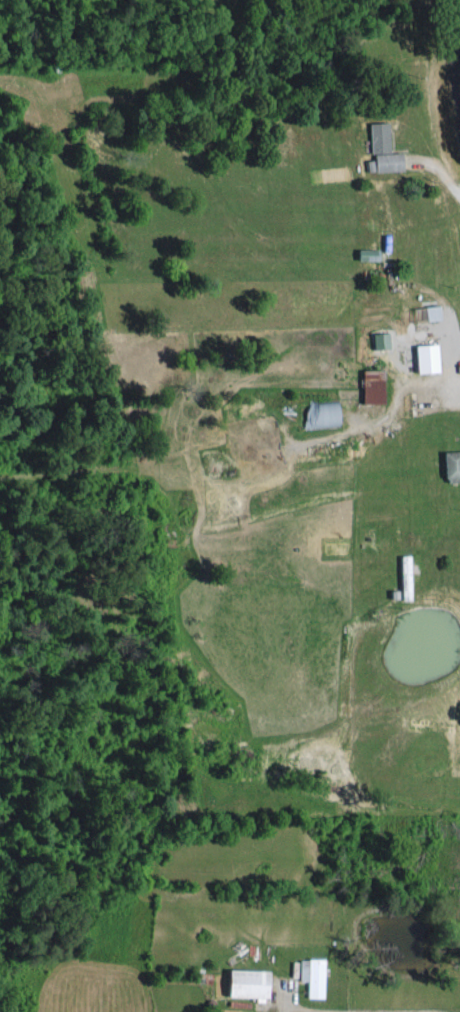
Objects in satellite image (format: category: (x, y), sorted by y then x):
road: (453, 49)
building: (380, 148)
building: (365, 252)
building: (421, 310)
building: (377, 338)
building: (422, 356)
building: (369, 384)
building: (319, 412)
building: (450, 464)
building: (309, 974)
building: (241, 981)

